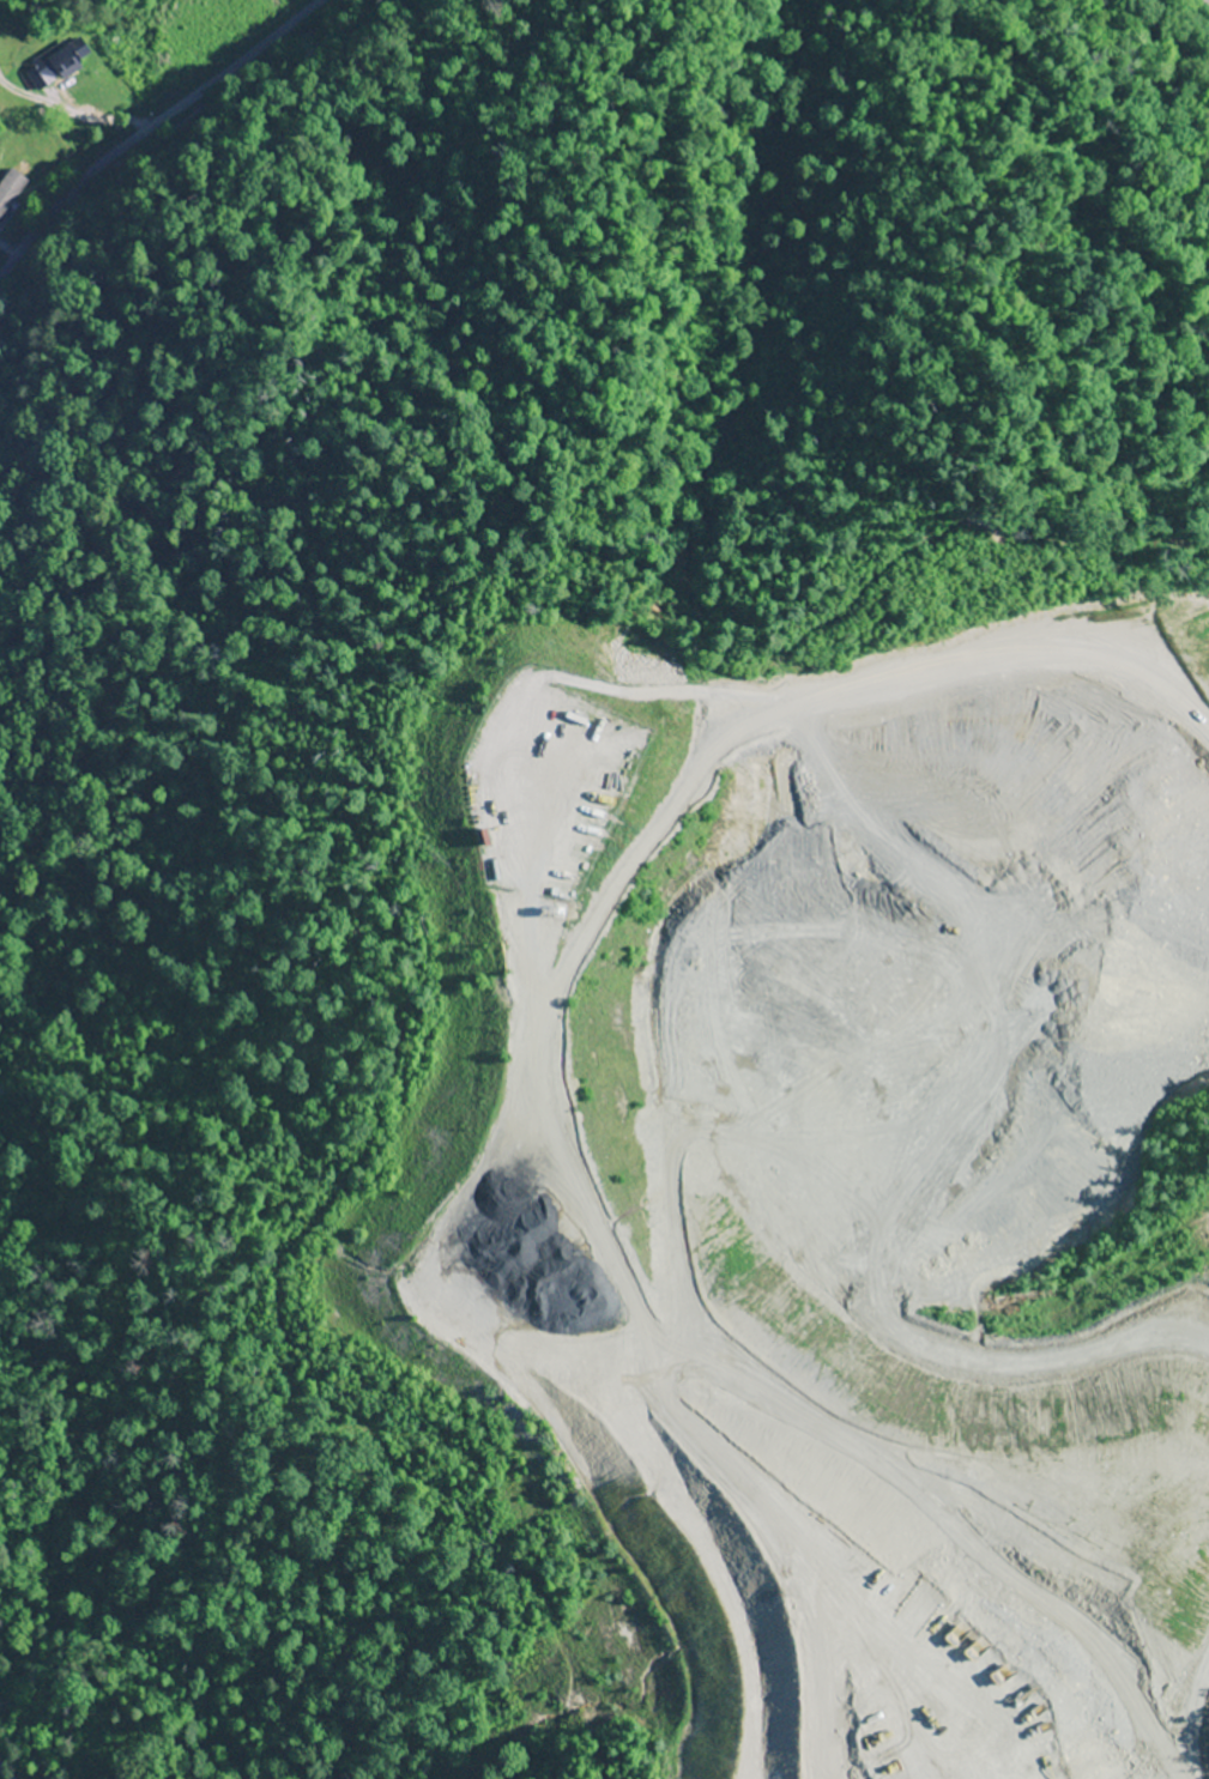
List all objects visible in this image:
building: (54, 67)
road: (153, 127)
road: (4, 1773)

